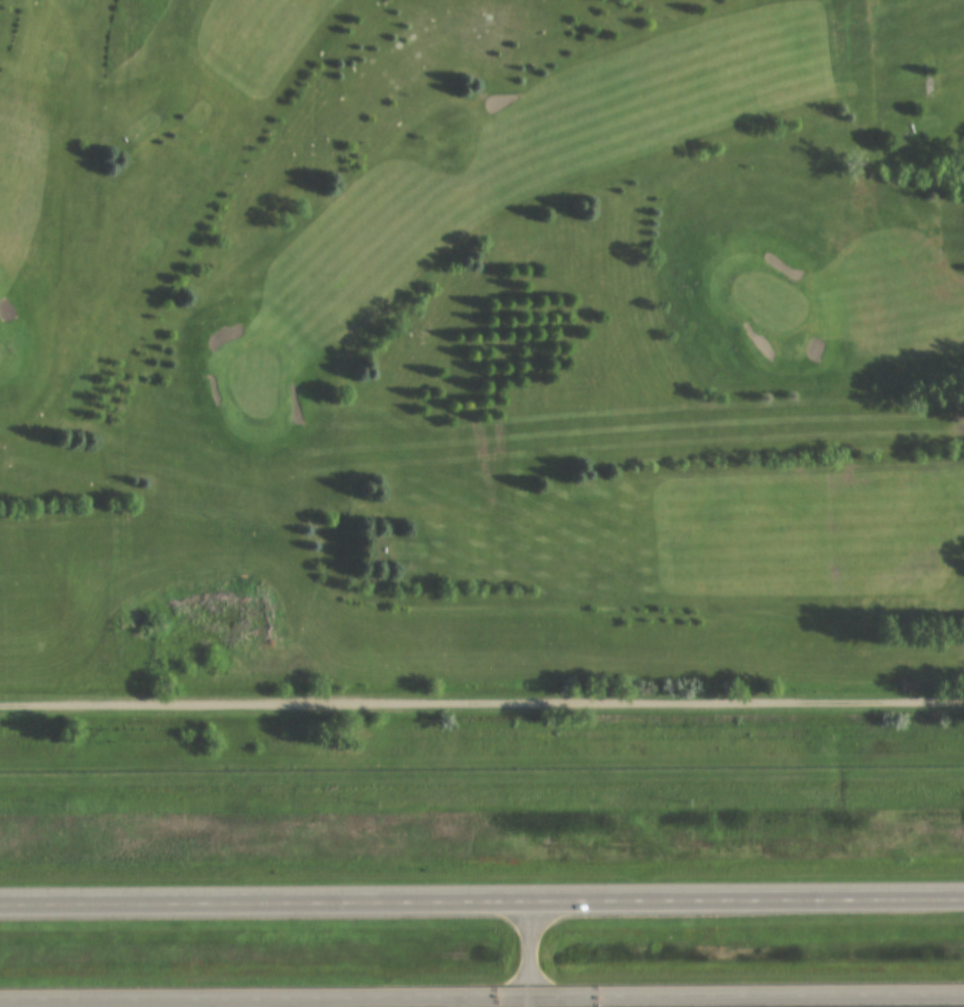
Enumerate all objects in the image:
park: (497, 299)
road: (482, 901)
road: (531, 946)
road: (482, 991)
road: (532, 999)

